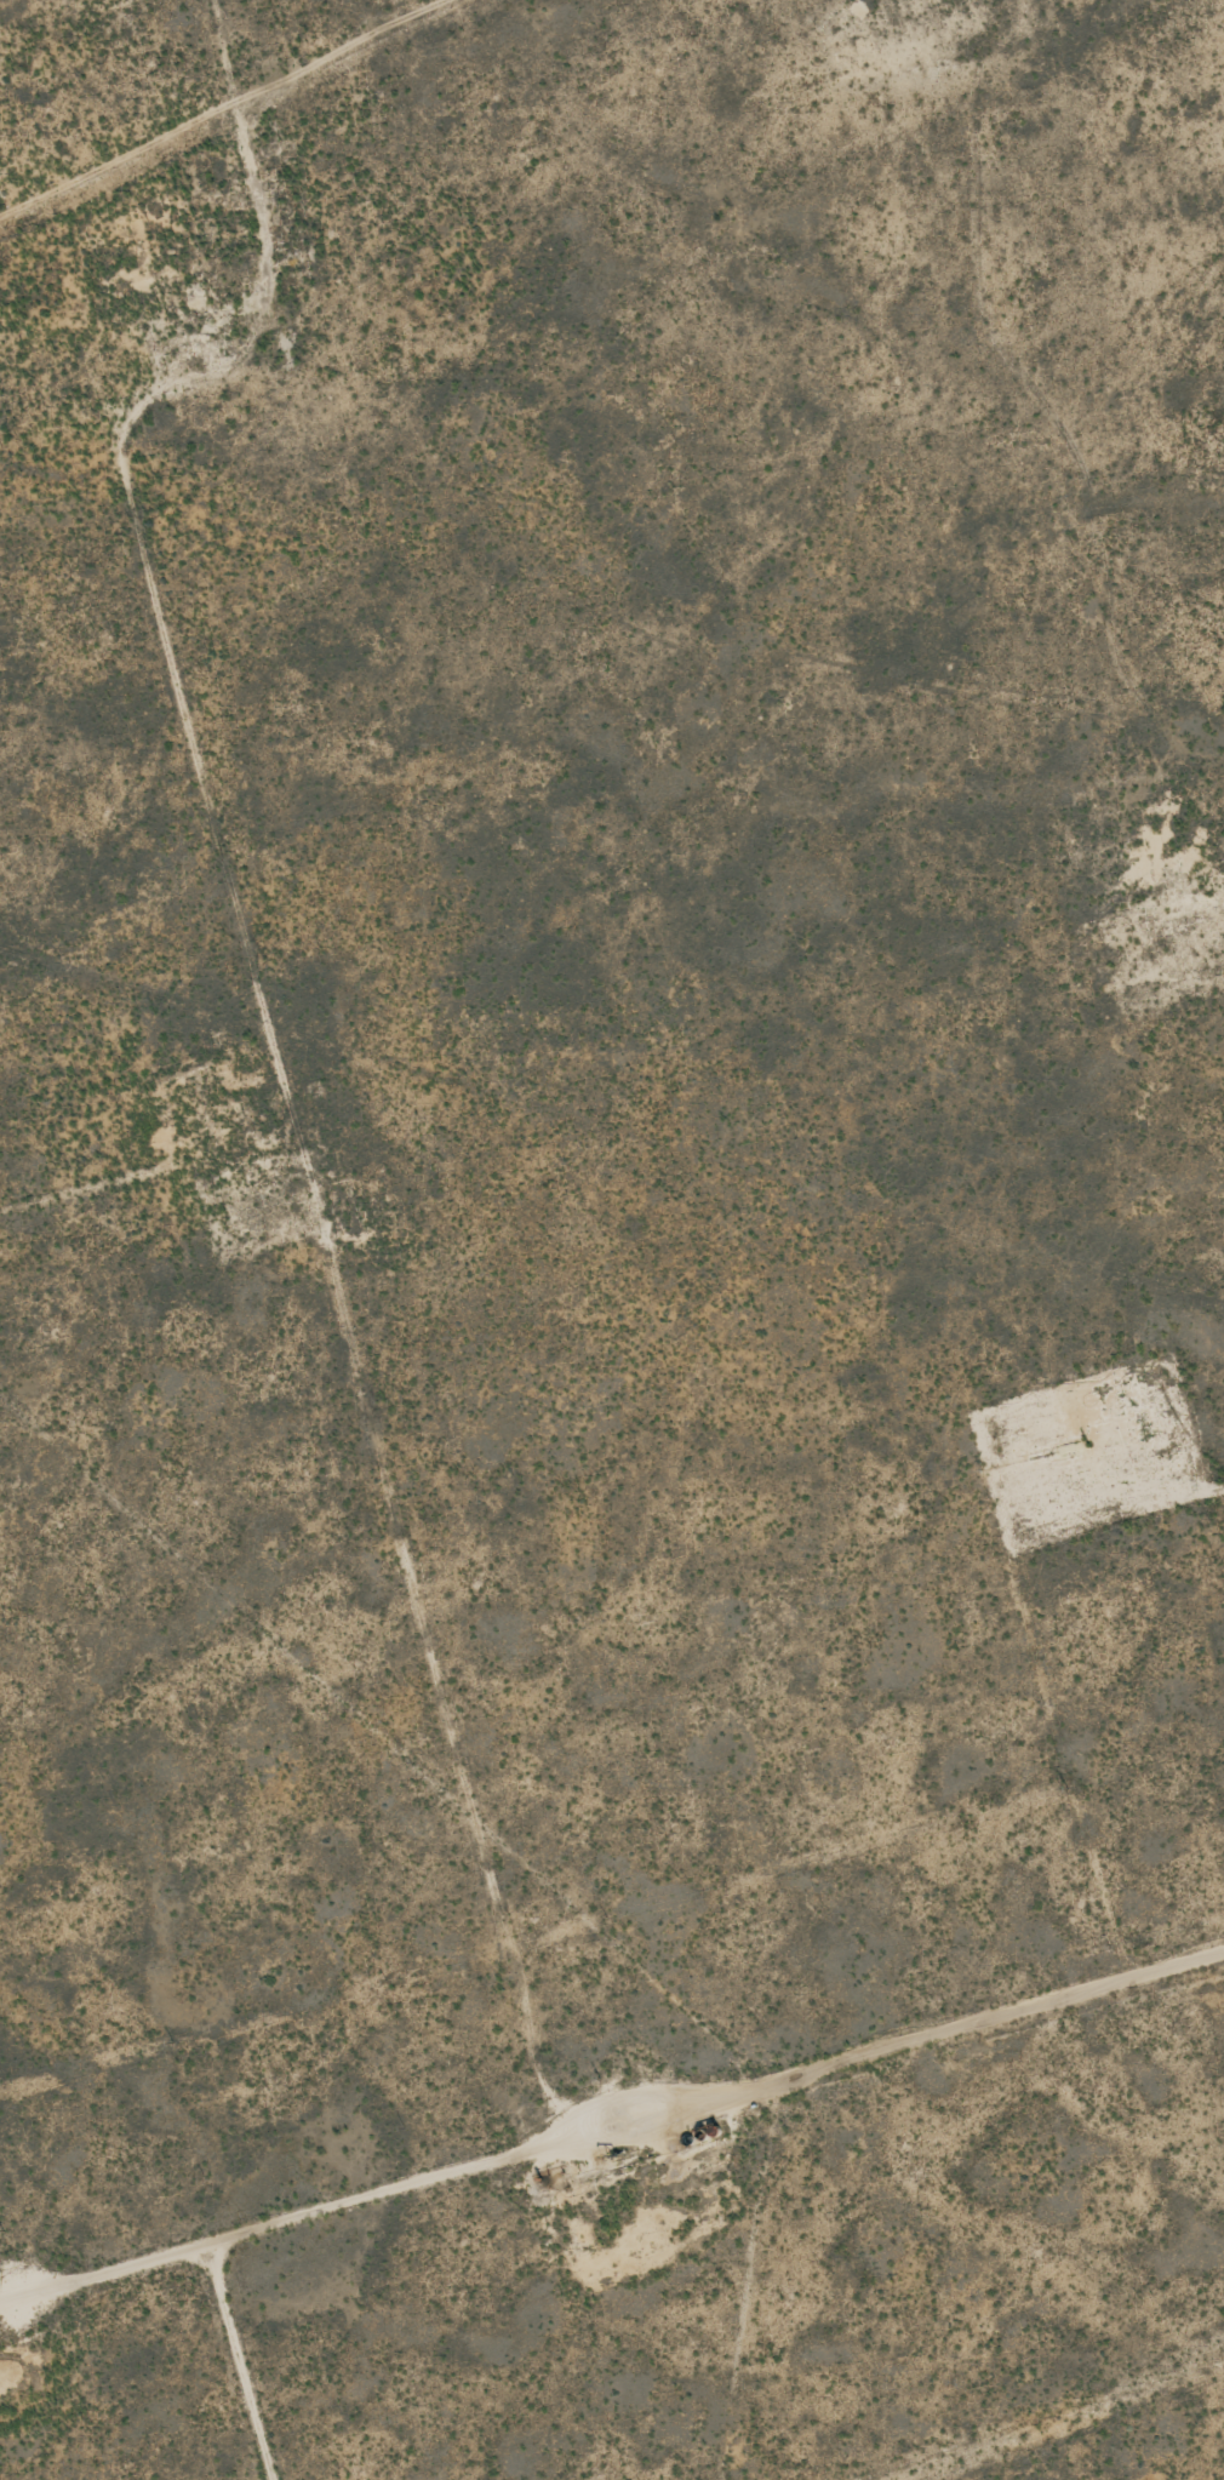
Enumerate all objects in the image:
road: (1005, 482)
road: (240, 1099)
road: (133, 1210)
road: (612, 2225)

